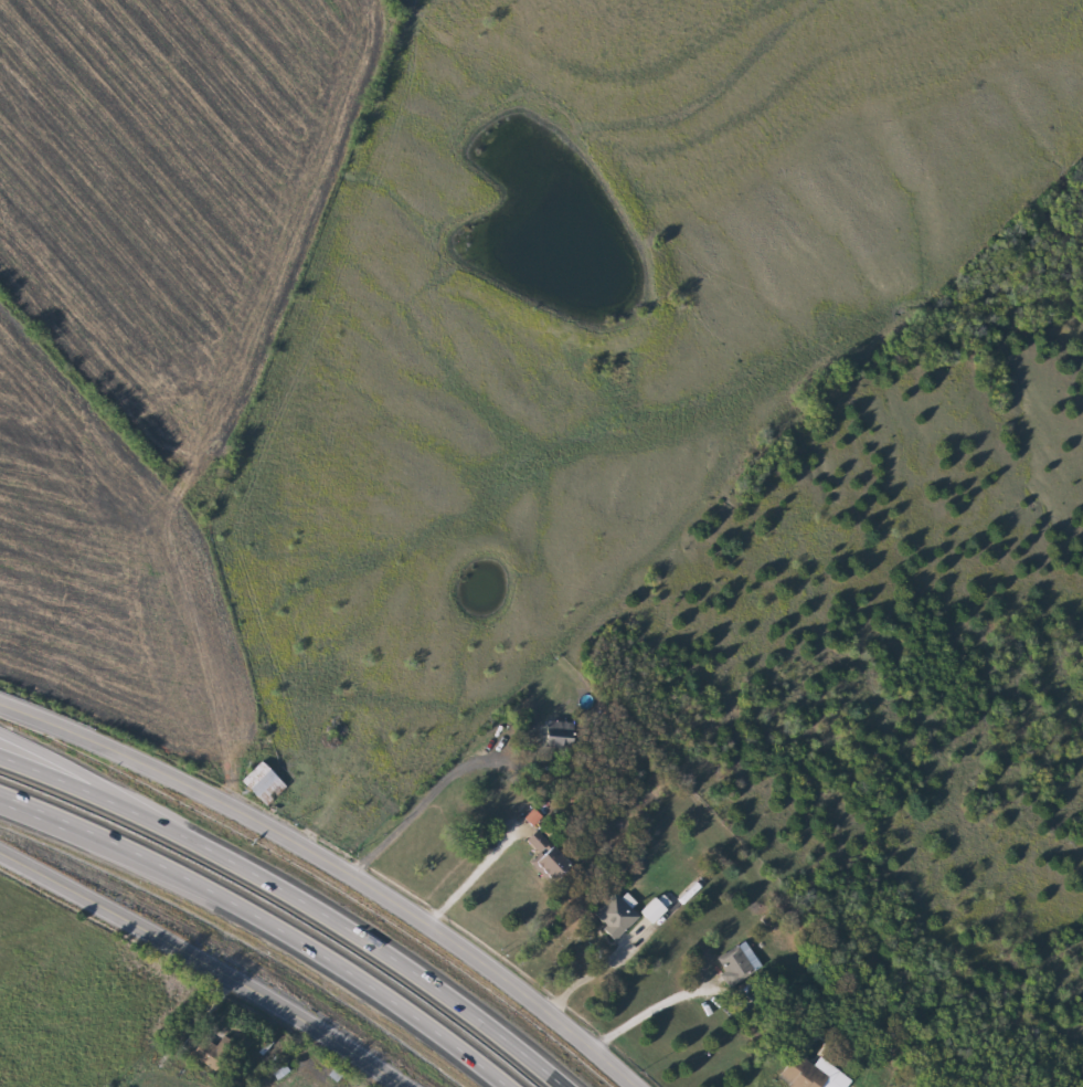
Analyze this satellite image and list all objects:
road: (79, 767)
building: (267, 782)
road: (76, 785)
road: (432, 788)
road: (1, 795)
building: (540, 852)
road: (336, 866)
road: (468, 877)
building: (647, 909)
building: (608, 915)
road: (263, 921)
building: (782, 937)
road: (369, 939)
building: (733, 961)
road: (204, 963)
road: (651, 1012)
building: (211, 1056)
building: (806, 1074)

